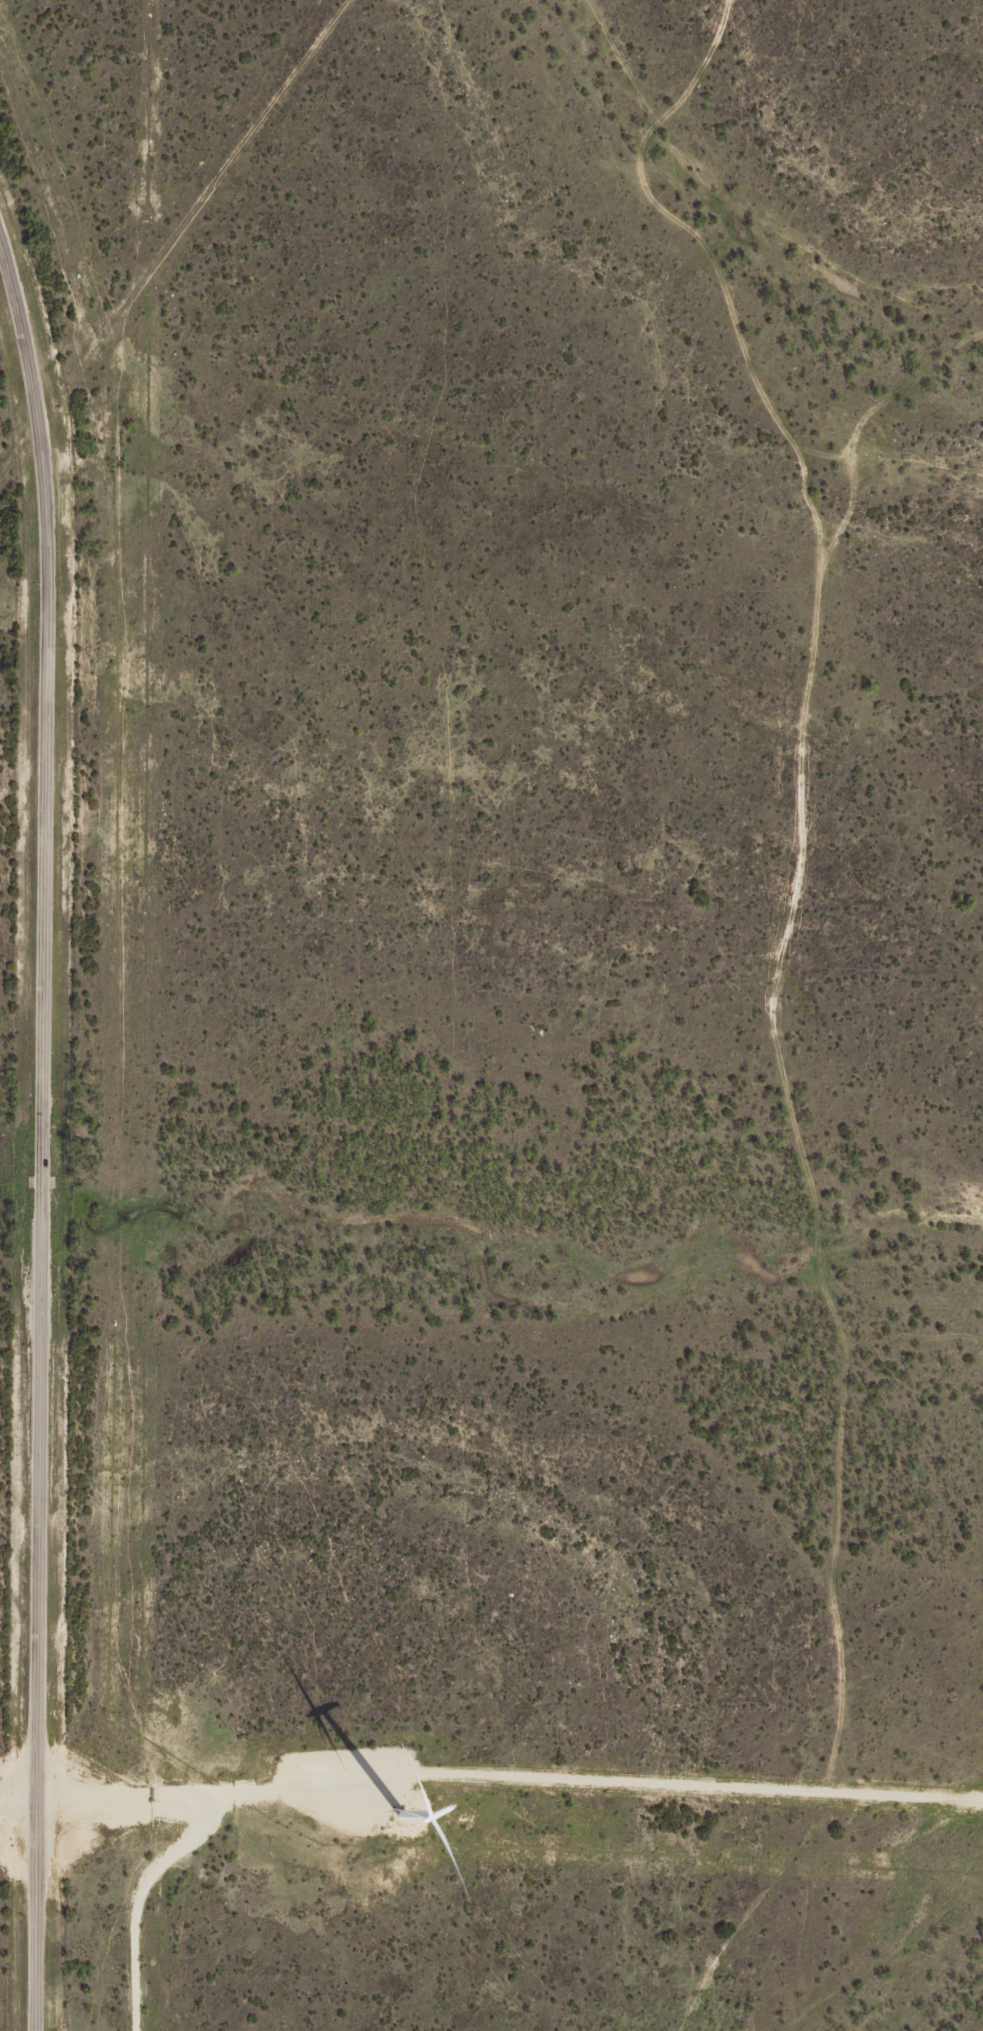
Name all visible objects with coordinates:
road: (773, 993)
road: (40, 1140)
wind turbine: (439, 1774)

